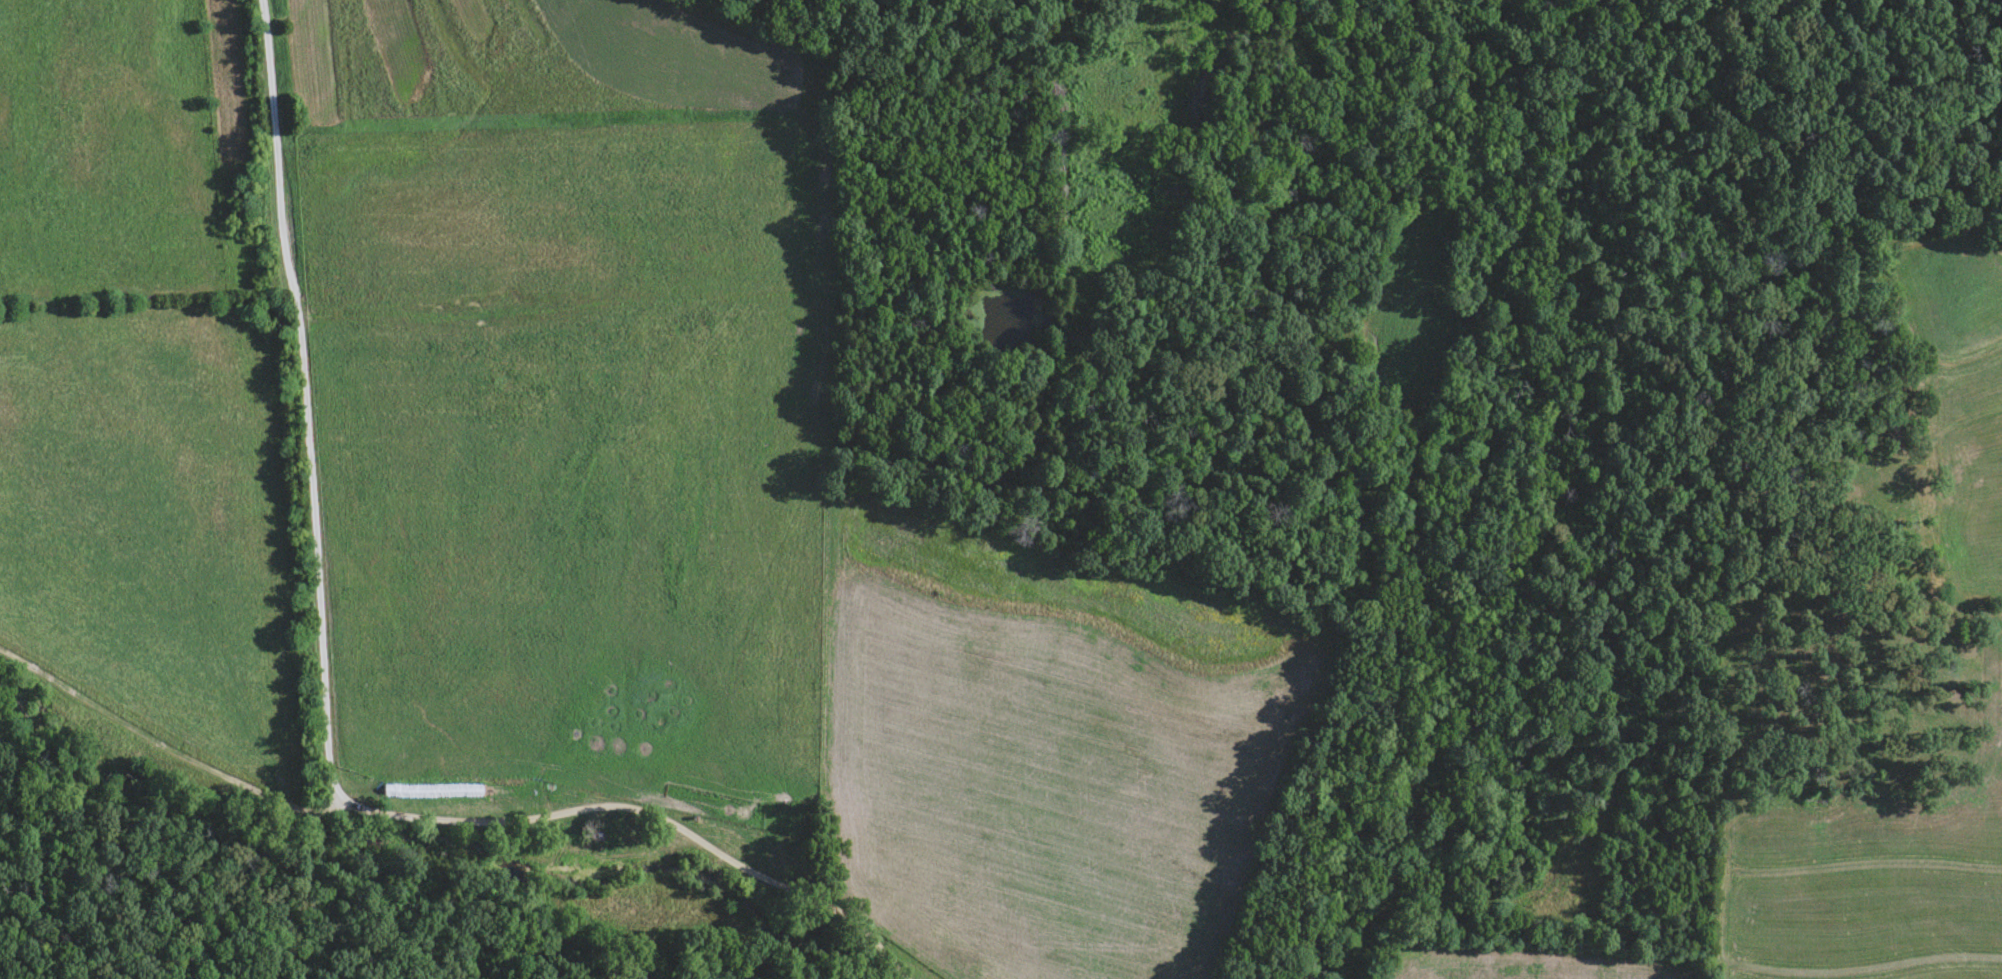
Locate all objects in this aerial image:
road: (324, 711)
building: (510, 786)

